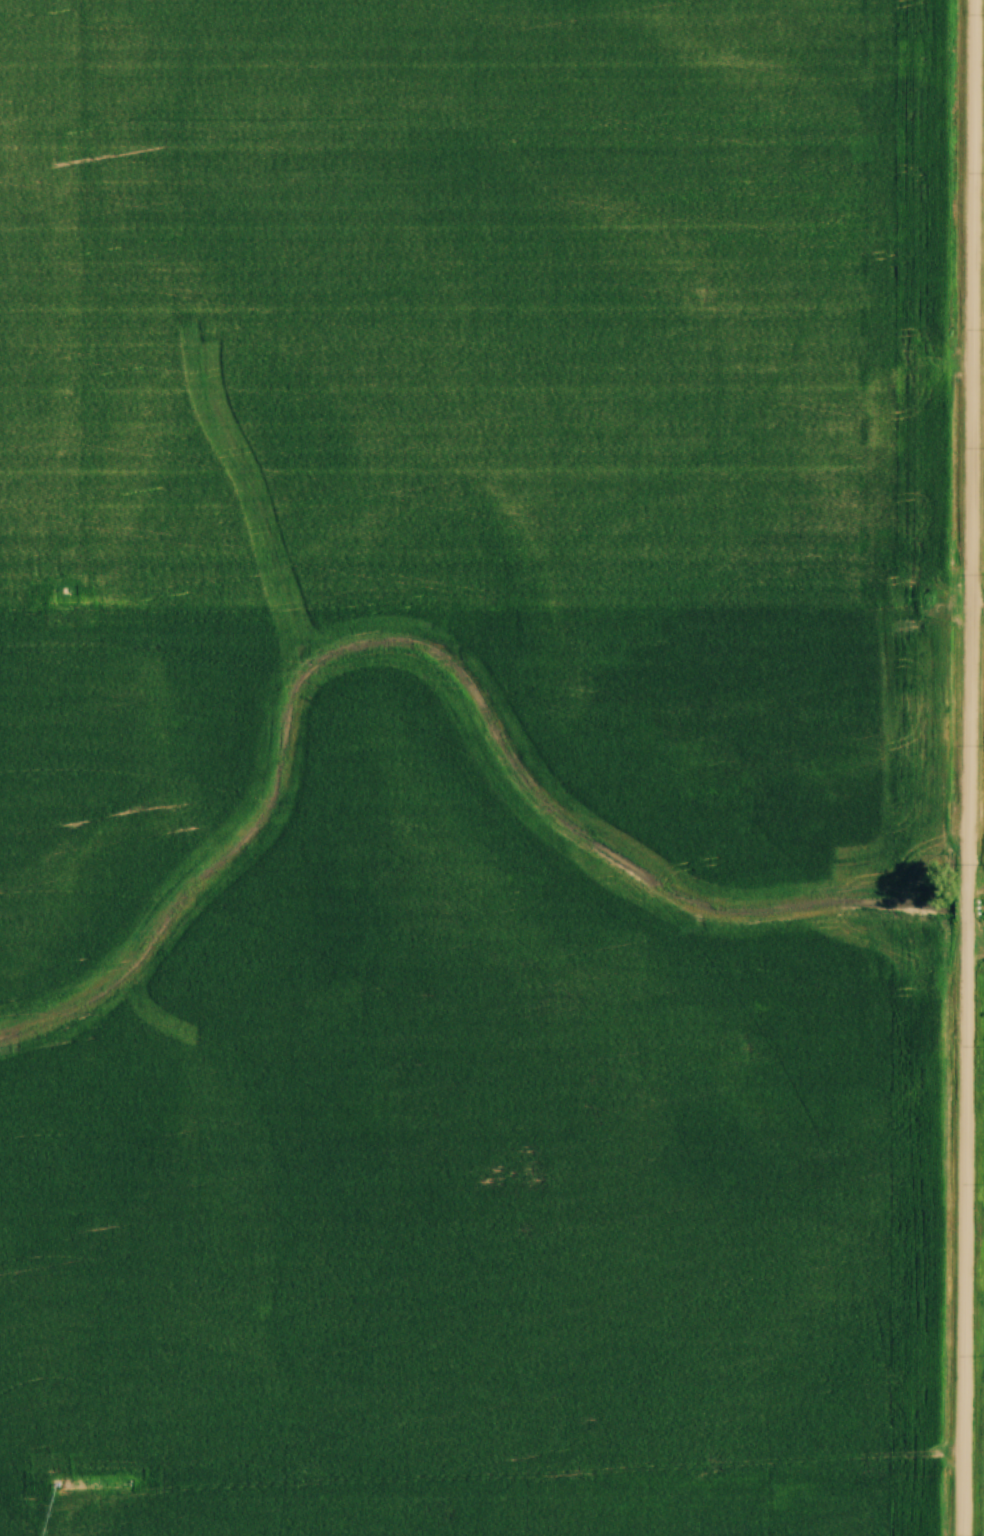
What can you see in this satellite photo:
road: (969, 768)

